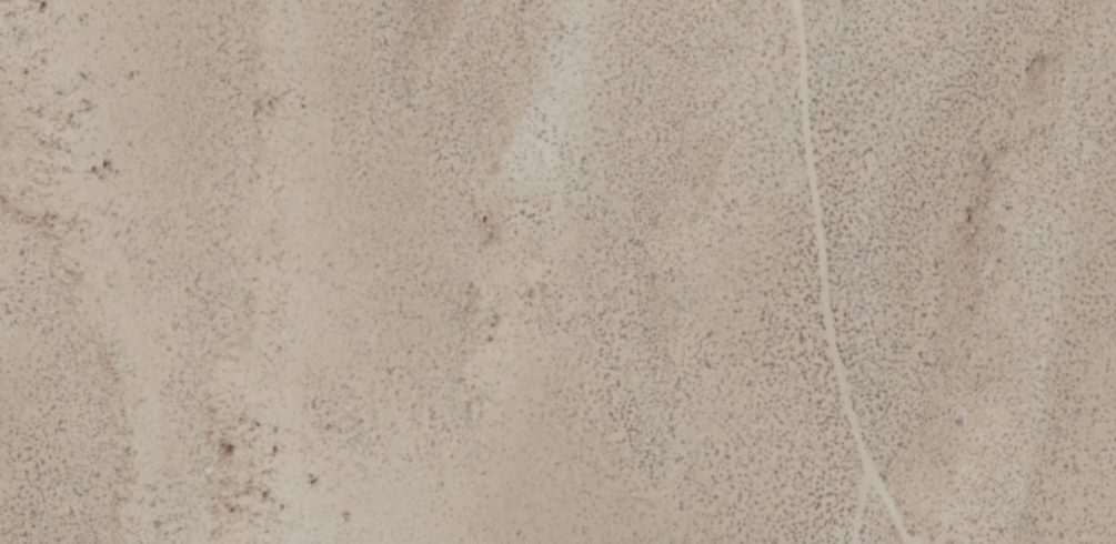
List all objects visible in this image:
road: (826, 294)
road: (872, 512)

